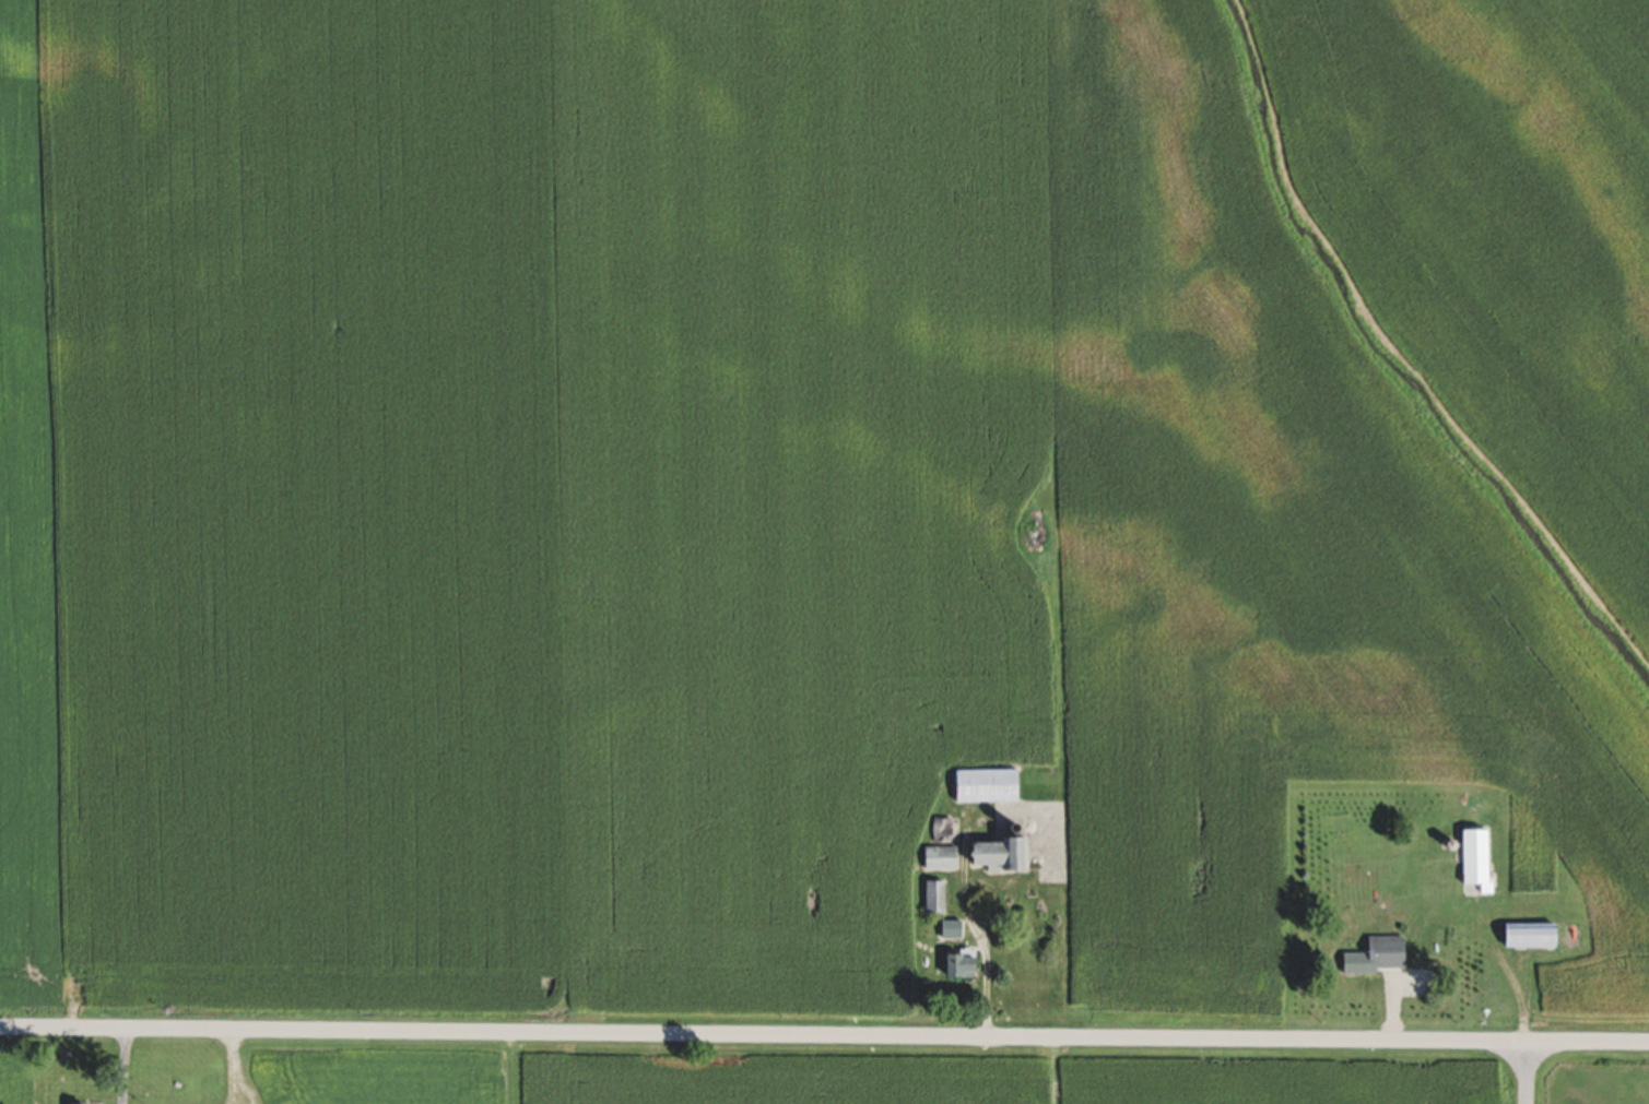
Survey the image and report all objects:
building: (983, 791)
building: (940, 832)
building: (993, 855)
building: (1471, 857)
building: (937, 859)
building: (930, 898)
building: (949, 930)
building: (1523, 936)
building: (1375, 957)
building: (955, 964)
road: (824, 1046)
road: (123, 1071)
road: (233, 1072)
road: (1522, 1079)

